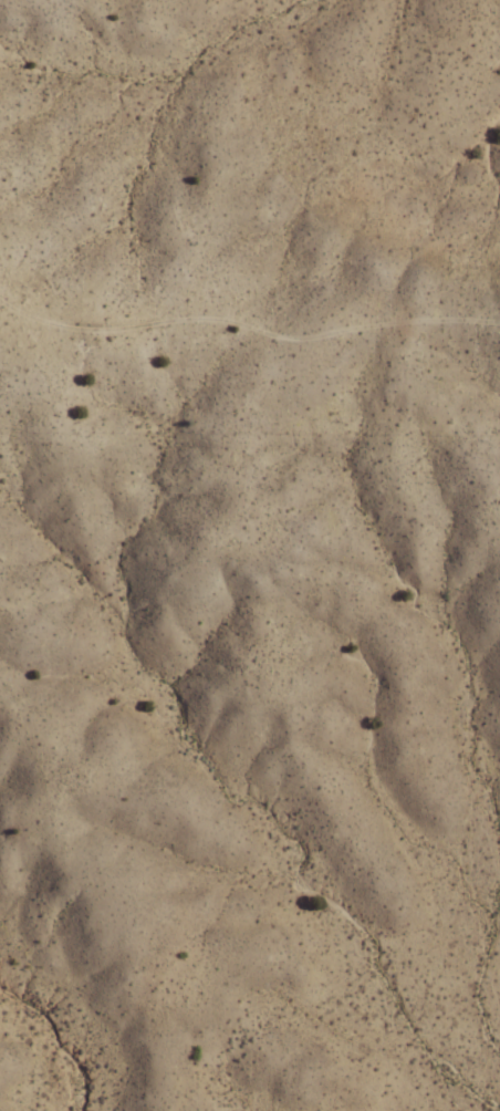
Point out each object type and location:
road: (248, 330)

